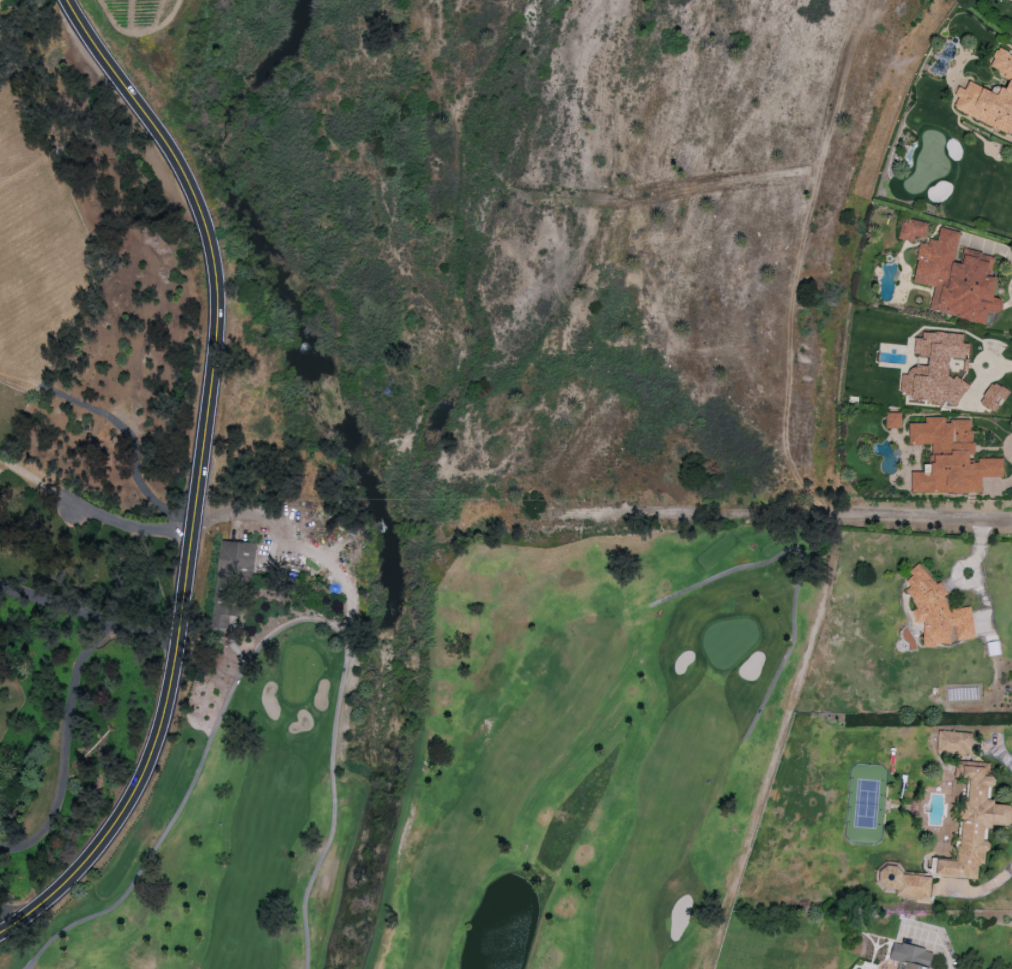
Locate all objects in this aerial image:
crop: (136, 12)
building: (989, 98)
building: (911, 229)
road: (799, 268)
building: (934, 369)
building: (993, 397)
building: (893, 420)
building: (950, 458)
river: (361, 477)
road: (198, 478)
road: (1001, 484)
road: (89, 511)
road: (935, 516)
road: (968, 574)
building: (230, 578)
building: (937, 611)
road: (87, 613)
road: (268, 635)
building: (953, 743)
road: (1002, 755)
park: (483, 765)
building: (973, 822)
building: (906, 882)
road: (987, 886)
road: (11, 910)

